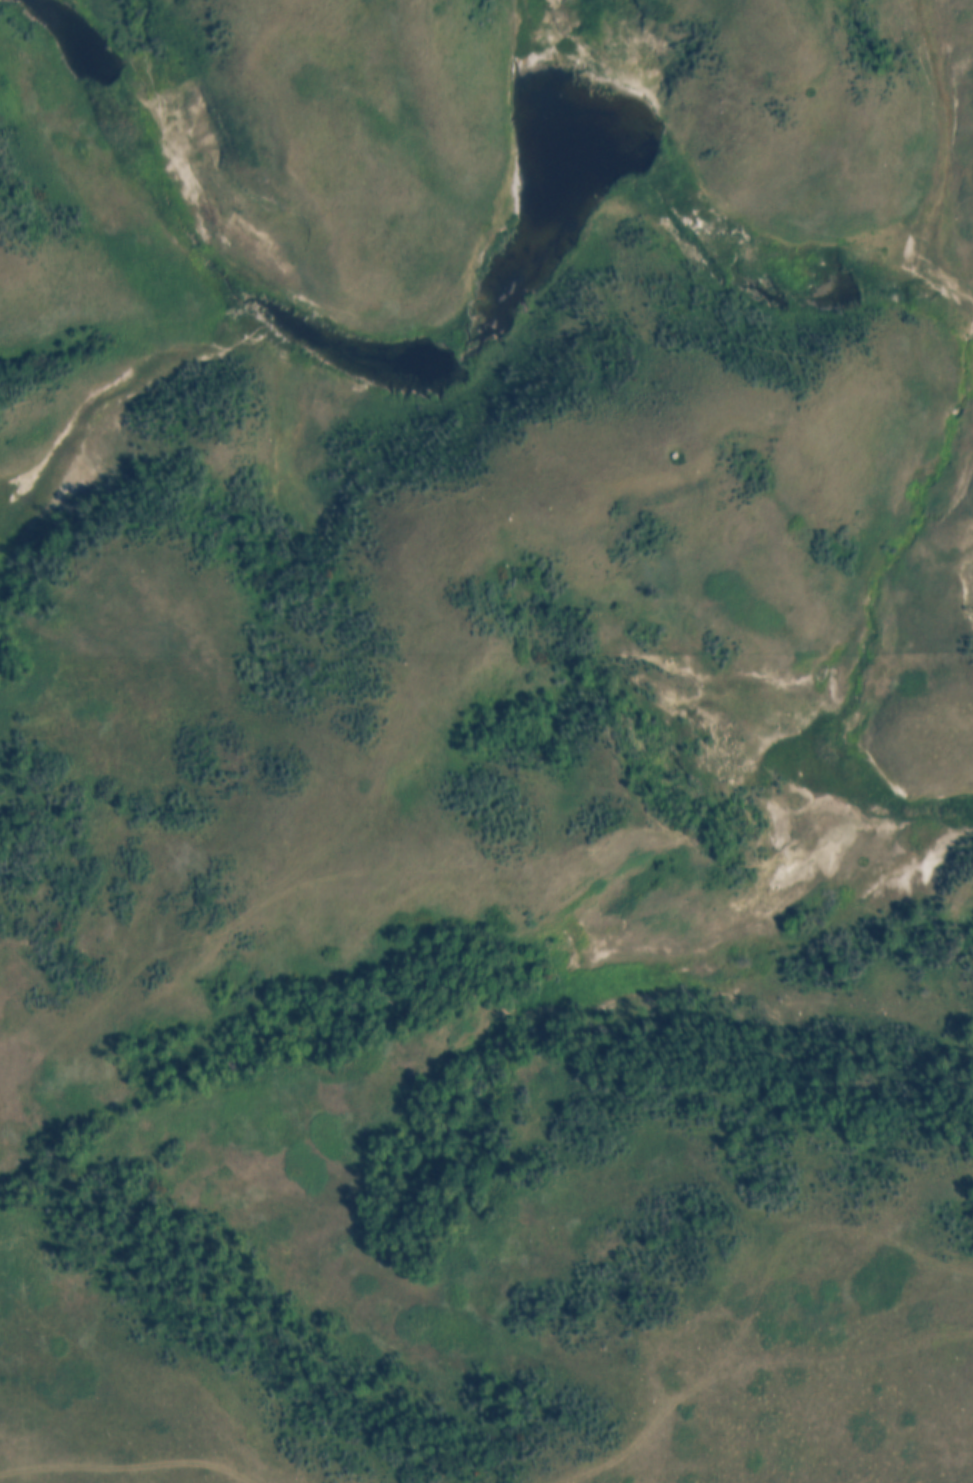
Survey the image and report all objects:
road: (126, 1474)

